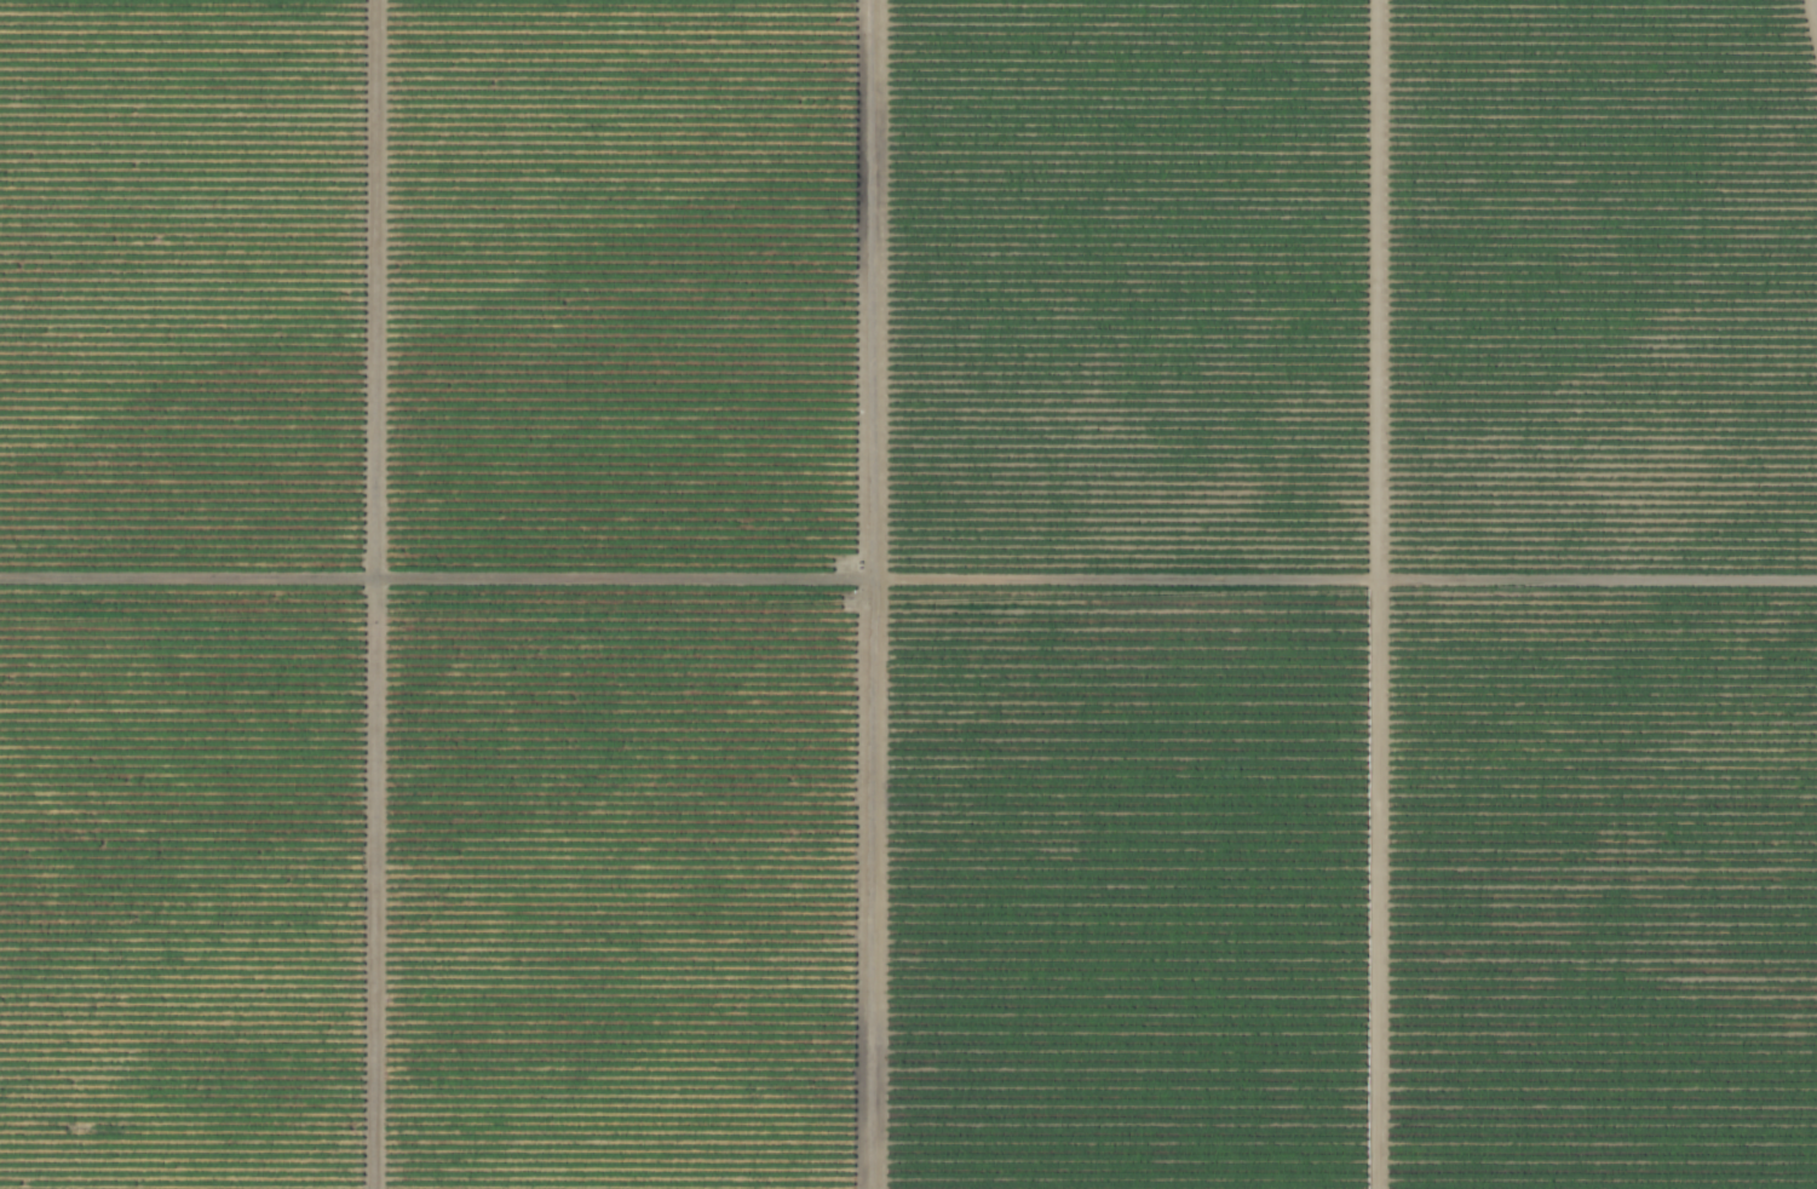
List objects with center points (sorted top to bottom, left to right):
crop: (907, 594)

